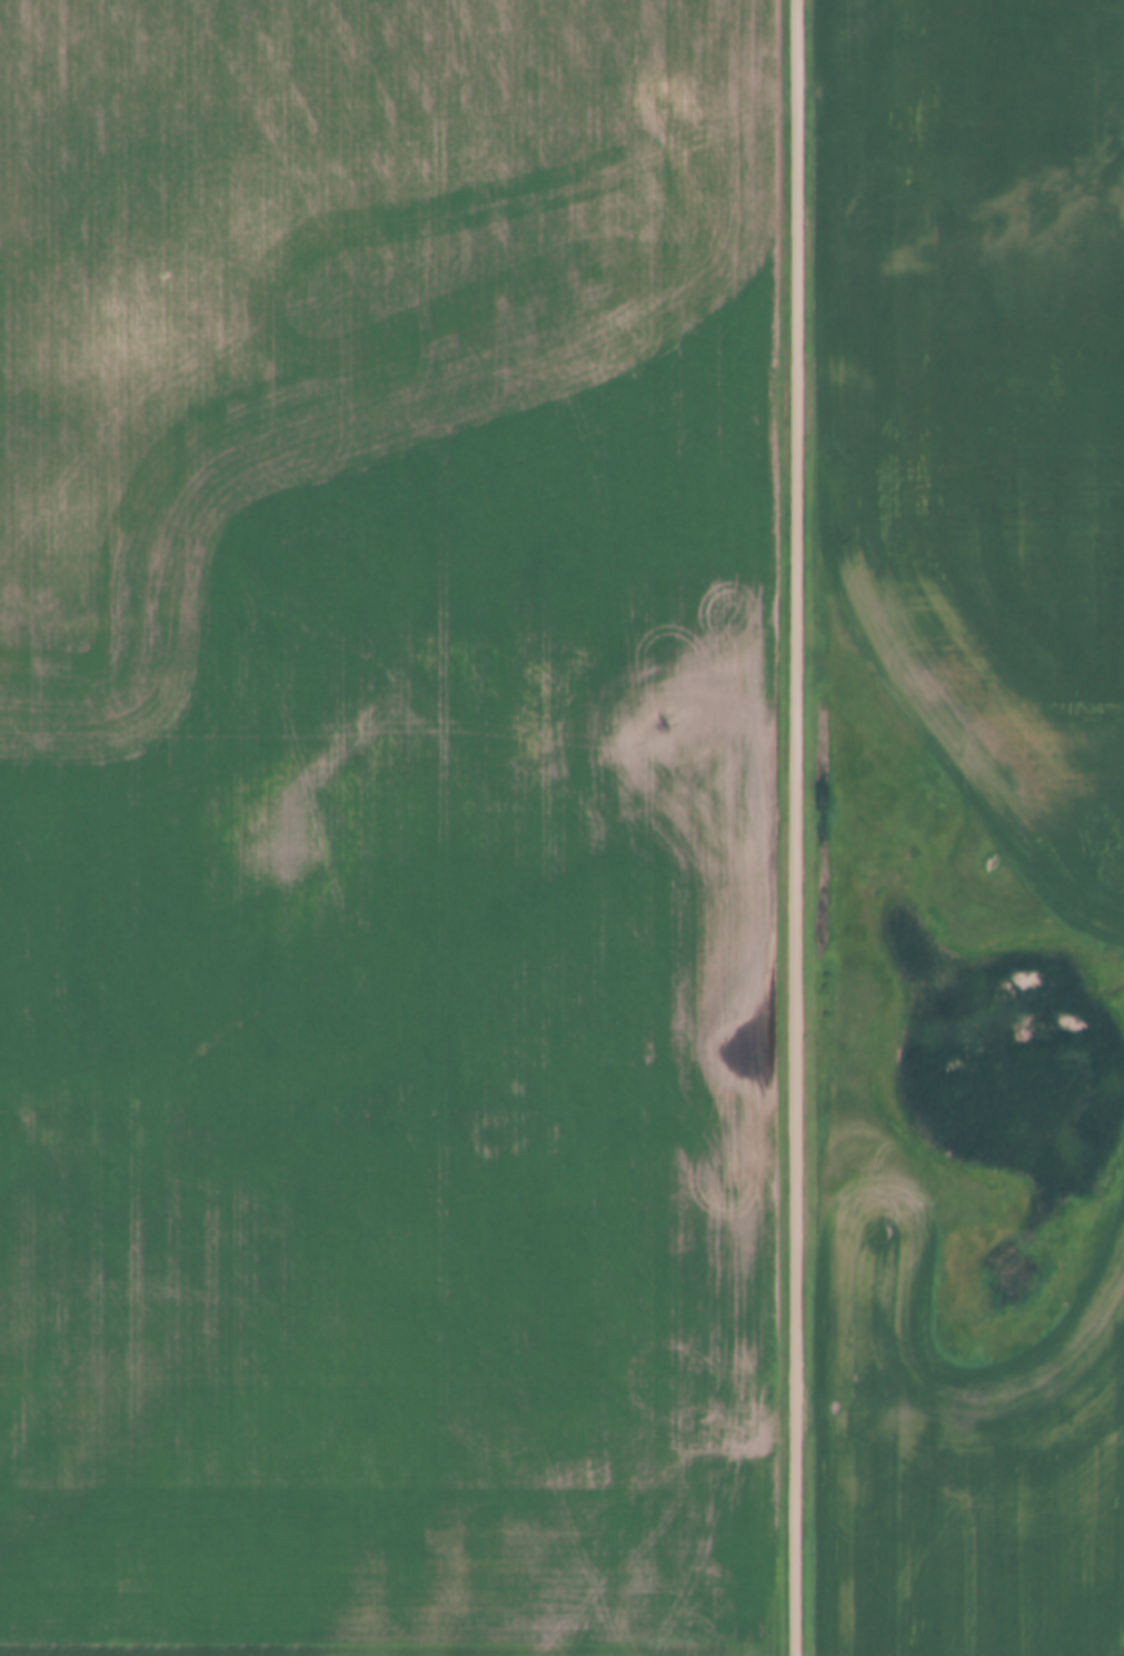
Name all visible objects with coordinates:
road: (800, 827)

